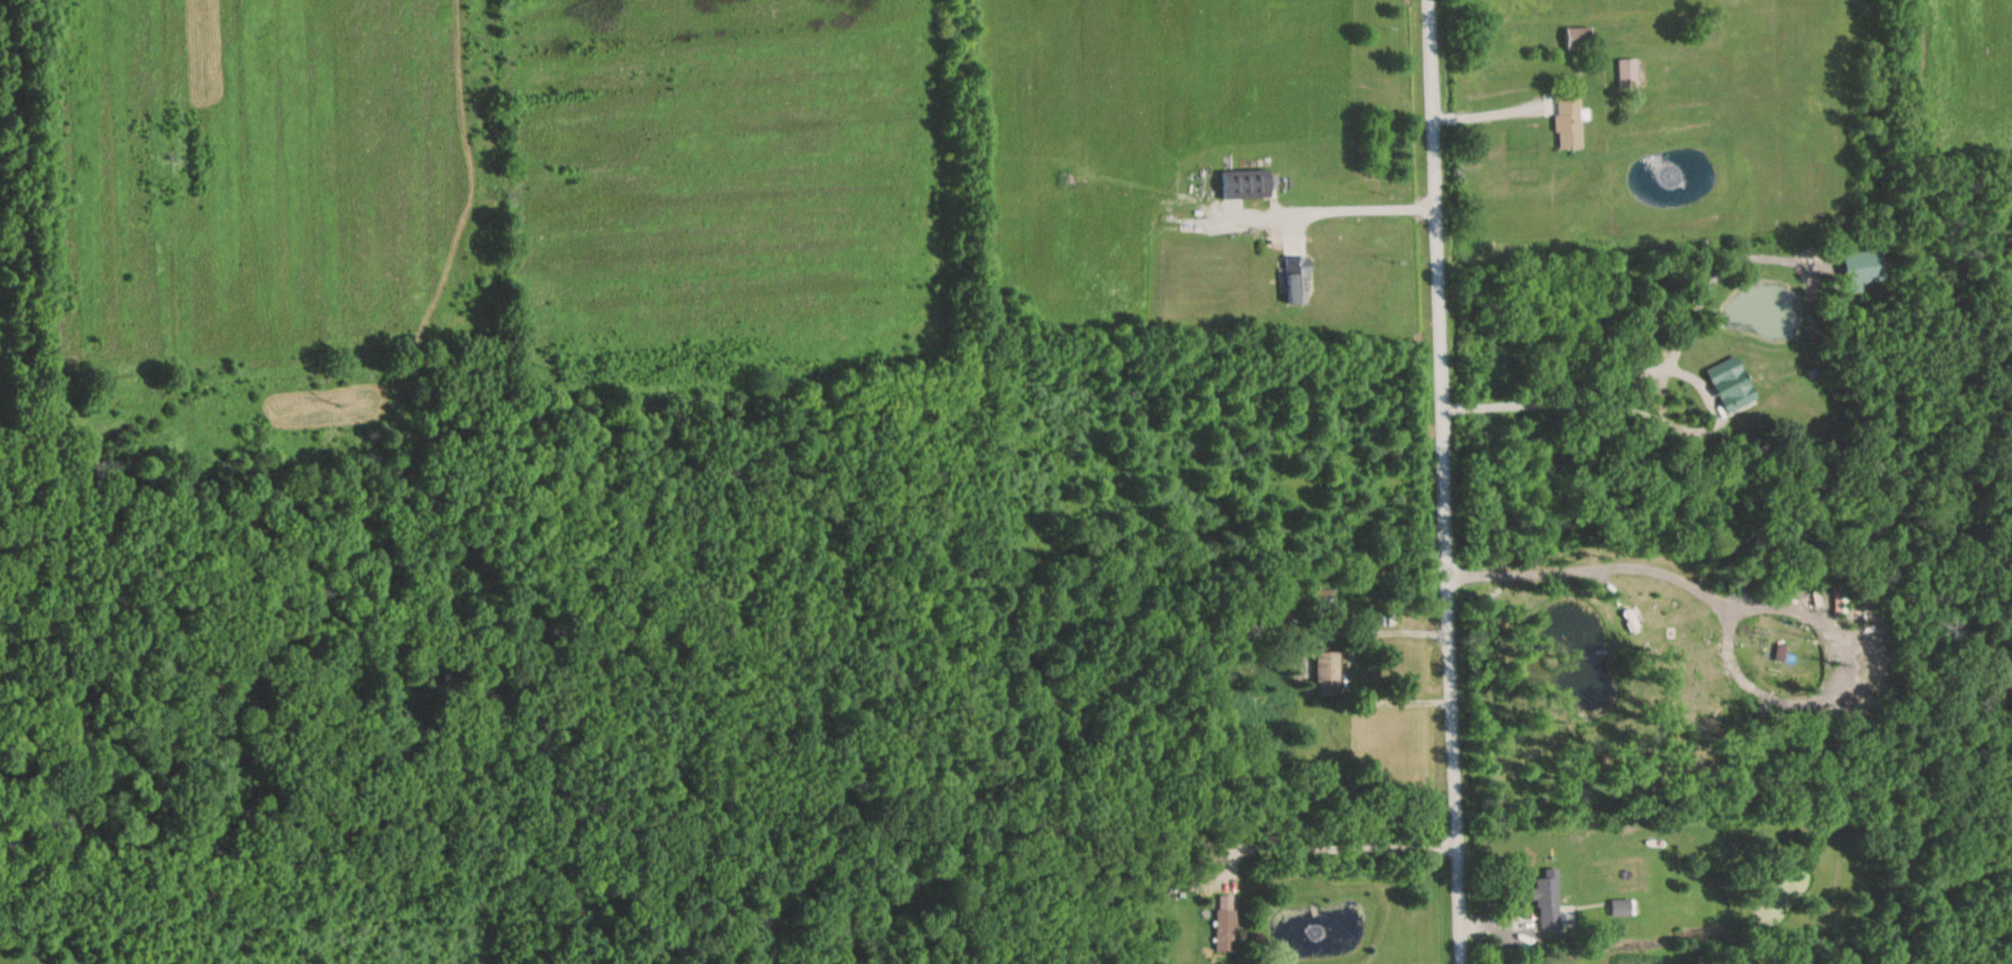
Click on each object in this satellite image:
building: (1576, 39)
building: (1625, 74)
road: (1479, 118)
building: (1566, 125)
building: (1246, 186)
road: (1364, 211)
building: (1860, 269)
building: (1295, 280)
building: (1729, 384)
road: (1464, 409)
road: (1505, 410)
road: (1711, 418)
road: (1437, 482)
building: (1320, 599)
road: (1751, 606)
road: (1344, 671)
building: (1324, 674)
road: (1344, 848)
building: (1209, 853)
building: (1545, 900)
building: (1620, 908)
building: (1222, 923)

